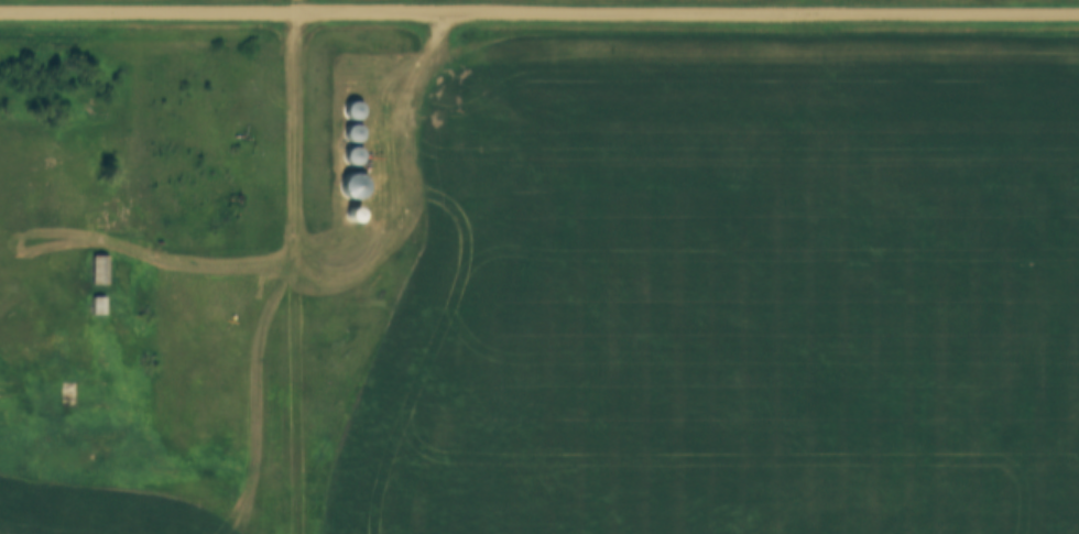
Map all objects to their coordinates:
road: (538, 14)
building: (356, 110)
building: (357, 133)
building: (356, 156)
building: (356, 186)
road: (290, 275)
road: (198, 276)

